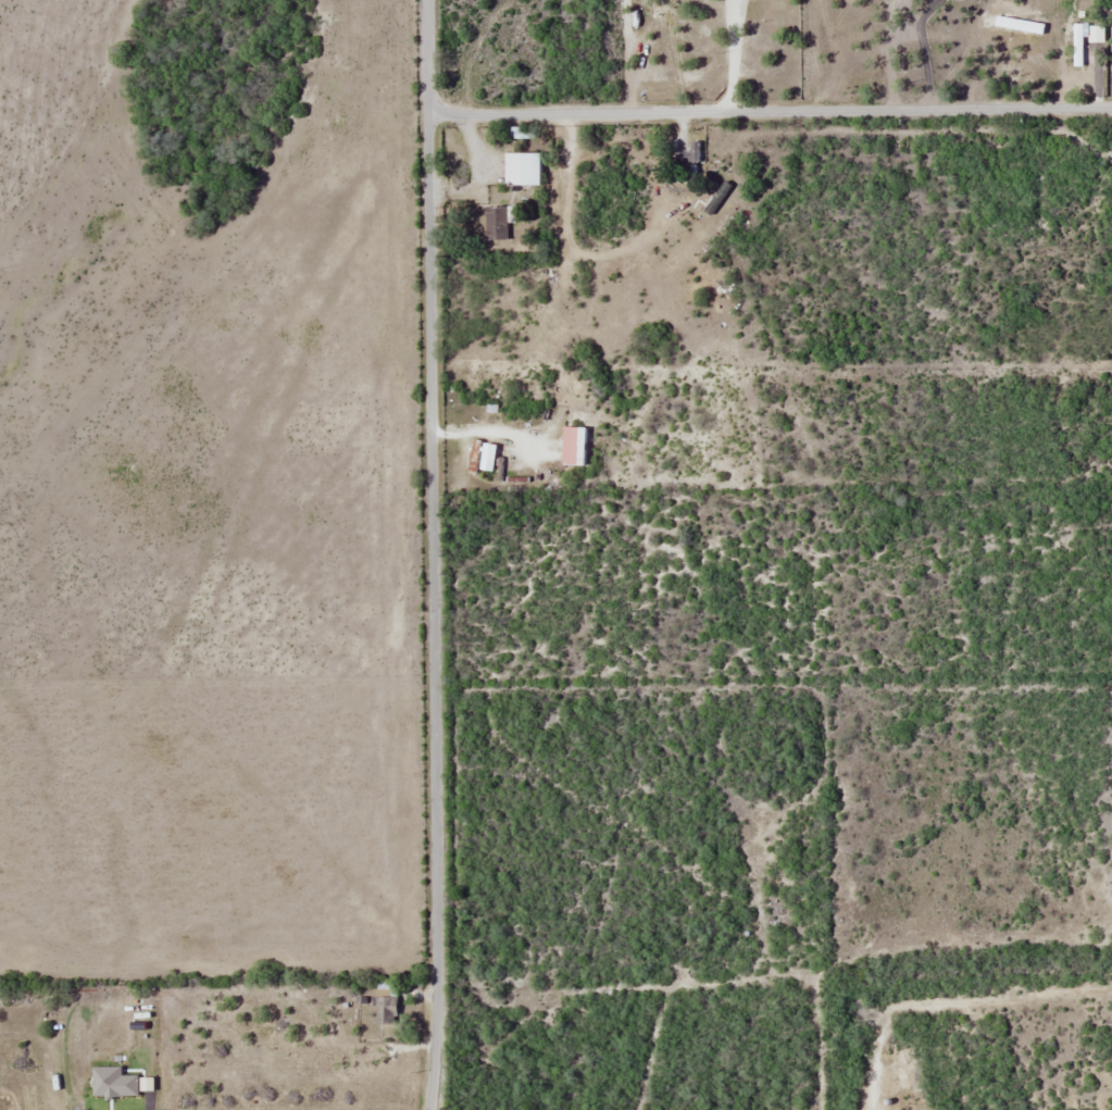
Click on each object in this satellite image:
road: (770, 110)
building: (518, 132)
building: (689, 153)
building: (520, 169)
building: (495, 223)
road: (433, 554)
building: (383, 1006)

